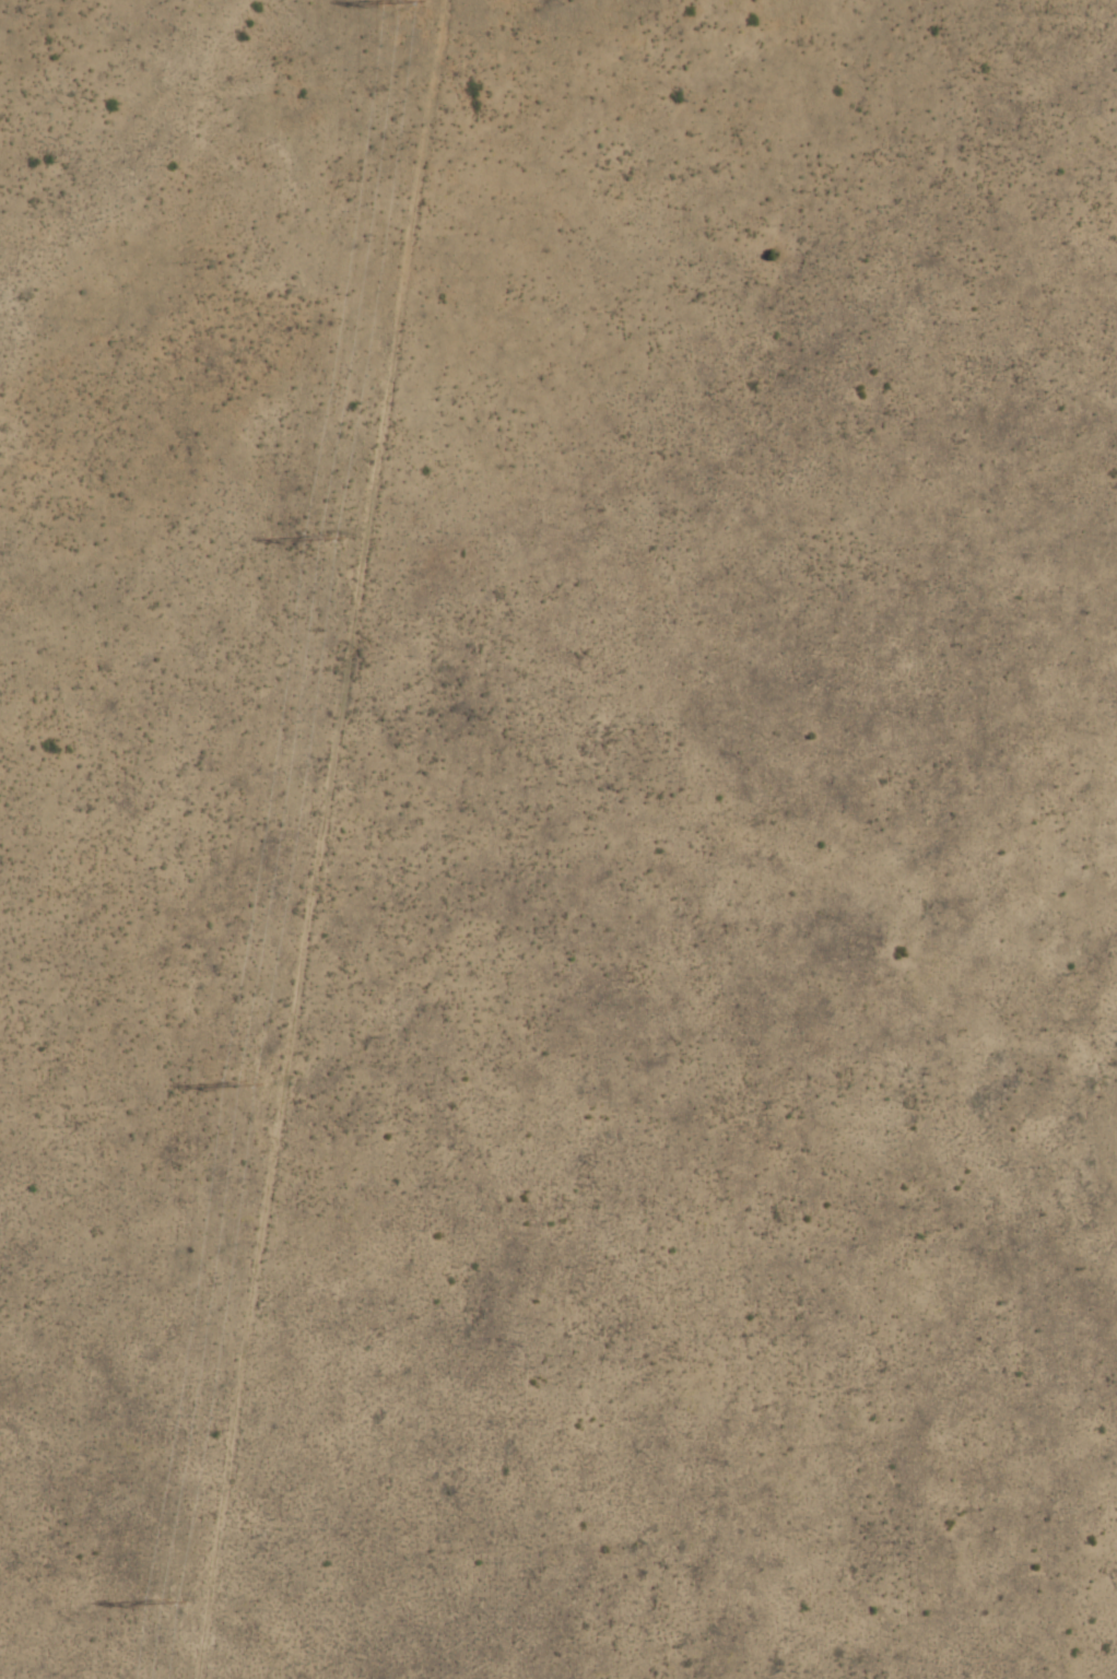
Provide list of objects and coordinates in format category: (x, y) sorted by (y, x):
power tower: (419, 1)
power tower: (339, 539)
power tower: (259, 1084)
power tower: (183, 1604)

